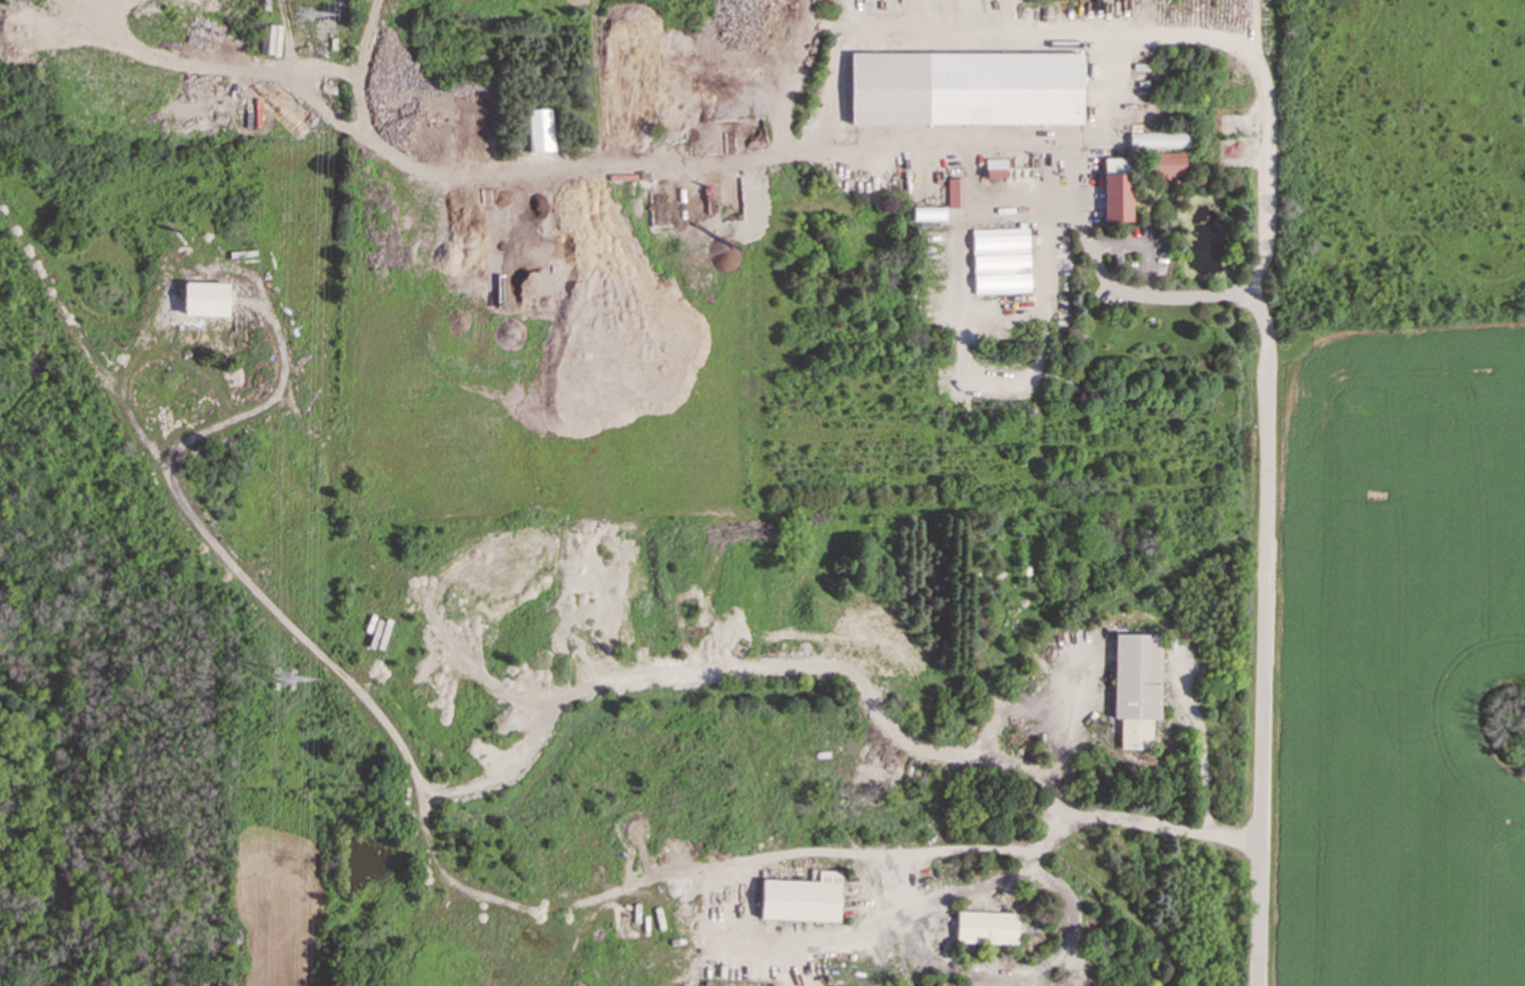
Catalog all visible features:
road: (1009, 15)
road: (1252, 16)
power tower: (308, 22)
road: (973, 31)
building: (964, 88)
building: (539, 130)
building: (1157, 139)
building: (1165, 164)
building: (994, 168)
building: (1114, 189)
building: (953, 192)
road: (1023, 203)
building: (927, 212)
road: (1139, 243)
building: (999, 259)
road: (1105, 280)
building: (204, 298)
road: (965, 306)
road: (1263, 664)
crop: (1401, 666)
power tower: (288, 683)
building: (1135, 686)
road: (1202, 743)
road: (1082, 818)
building: (800, 898)
road: (919, 903)
building: (985, 927)

